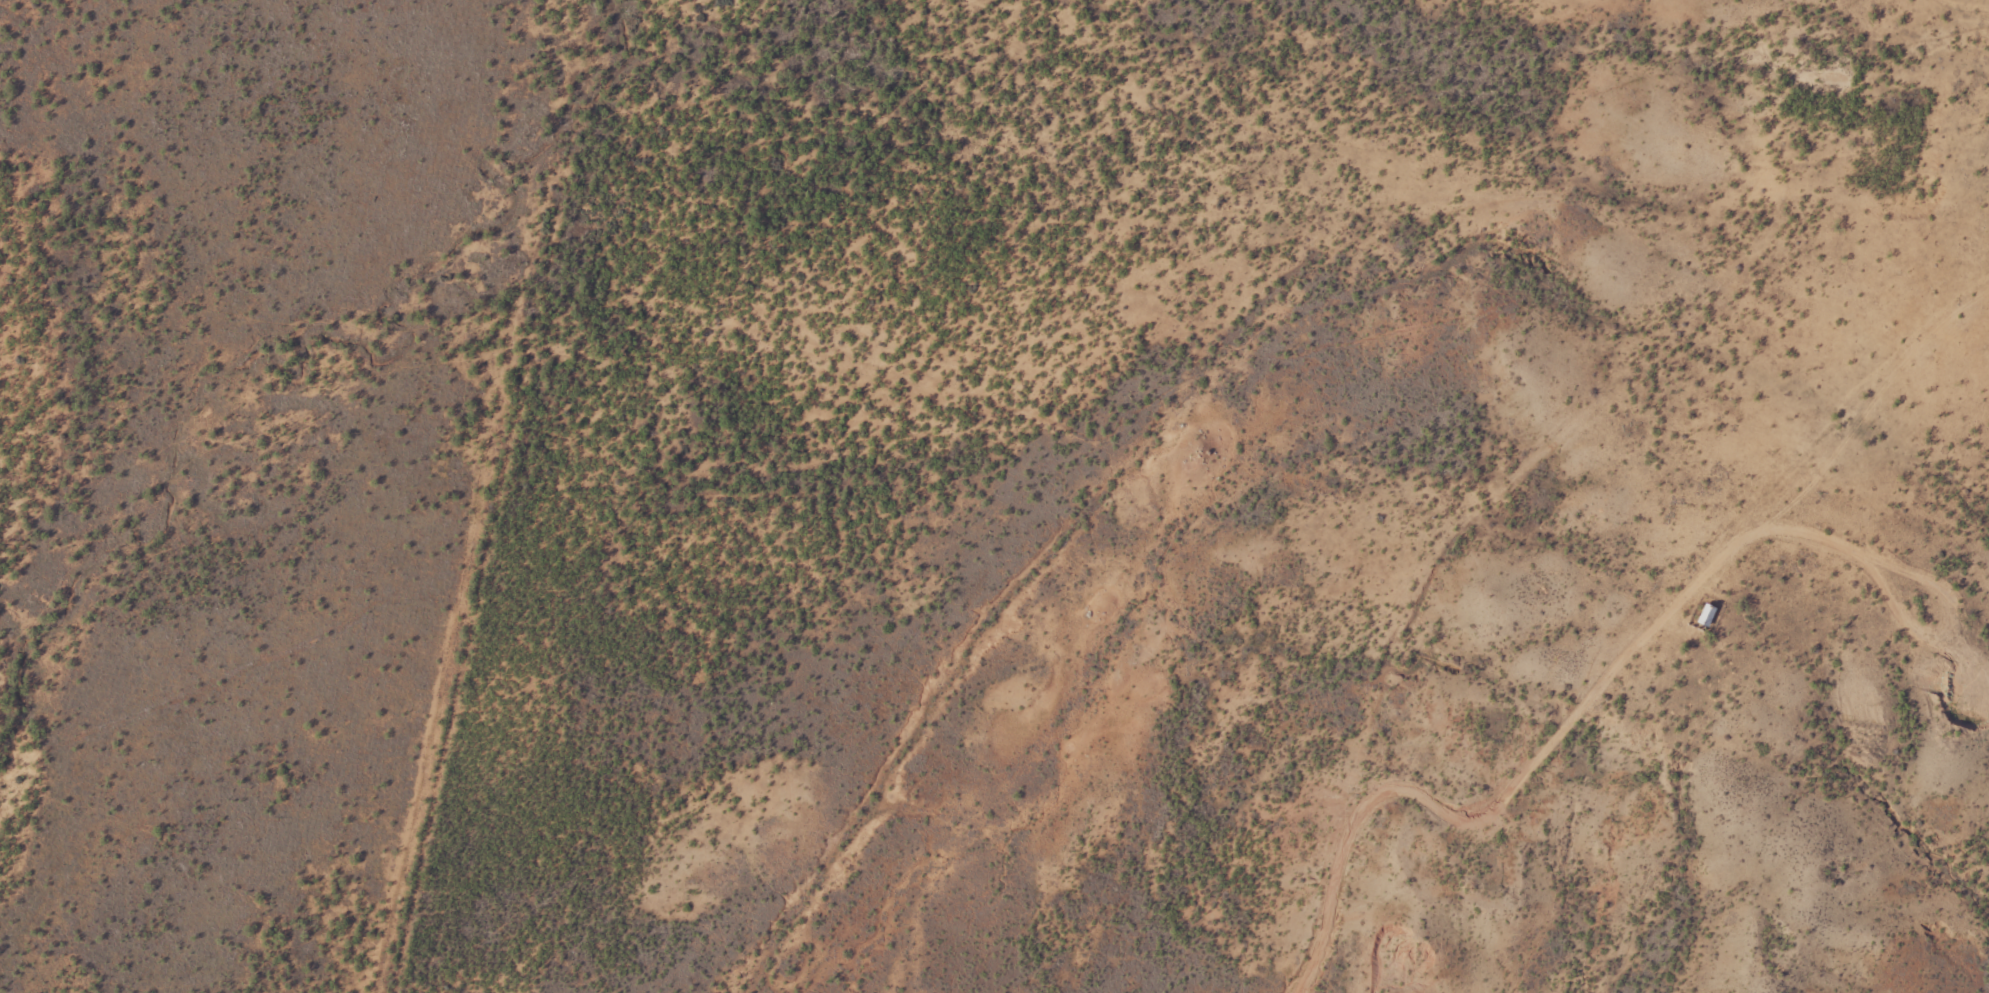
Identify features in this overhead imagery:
building: (1705, 615)

